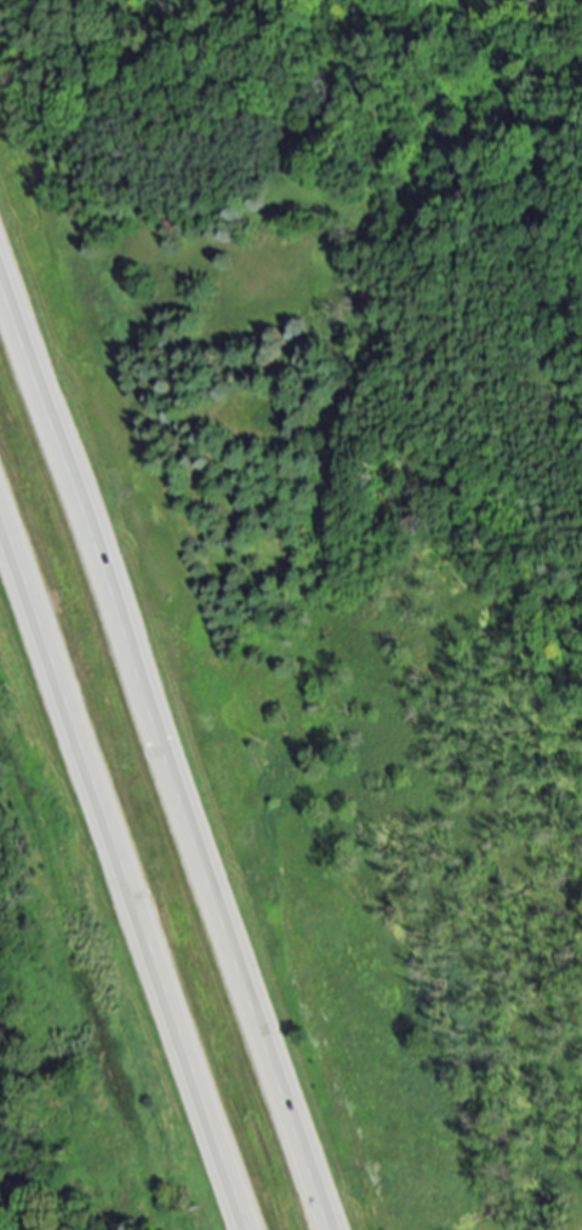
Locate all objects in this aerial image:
road: (167, 737)
road: (127, 857)

